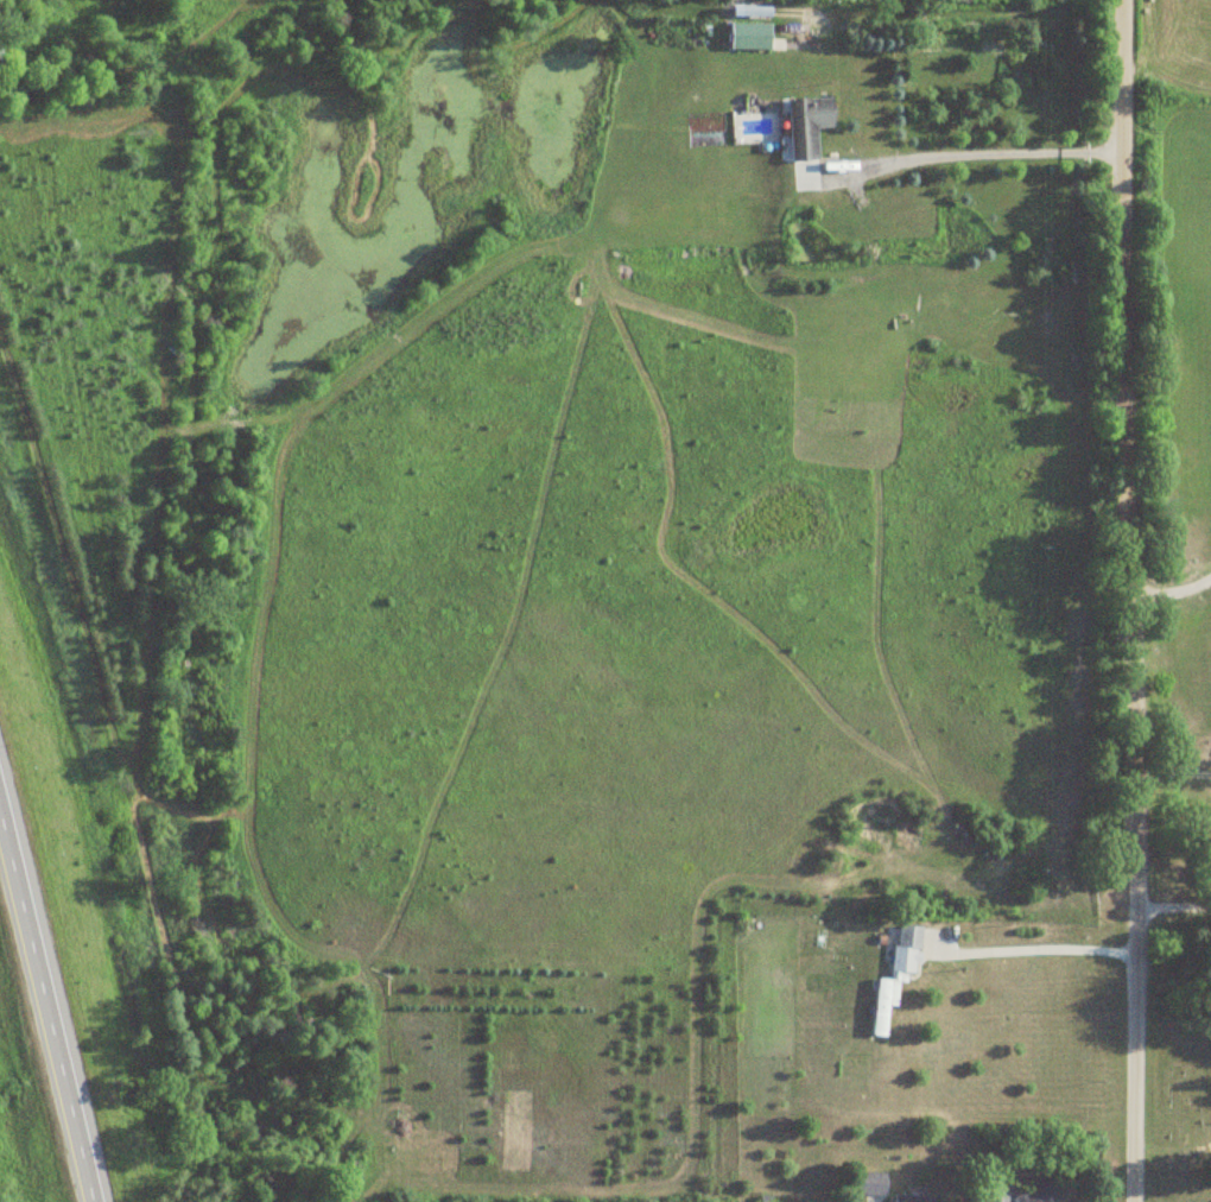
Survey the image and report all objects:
building: (748, 36)
building: (806, 125)
road: (959, 156)
road: (1171, 588)
road: (1129, 600)
building: (894, 975)
road: (37, 1014)
park: (1181, 1082)
building: (870, 1183)
building: (915, 1198)

